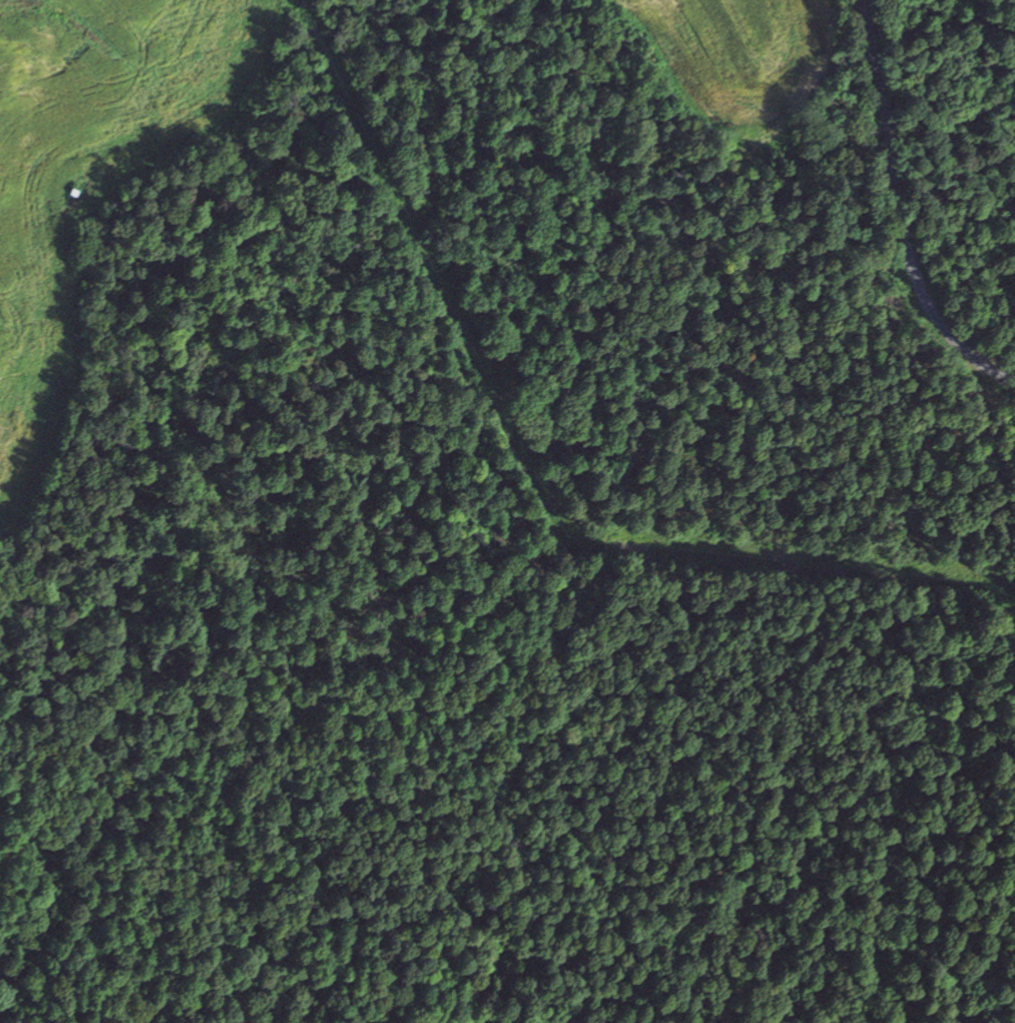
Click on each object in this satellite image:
road: (898, 213)

